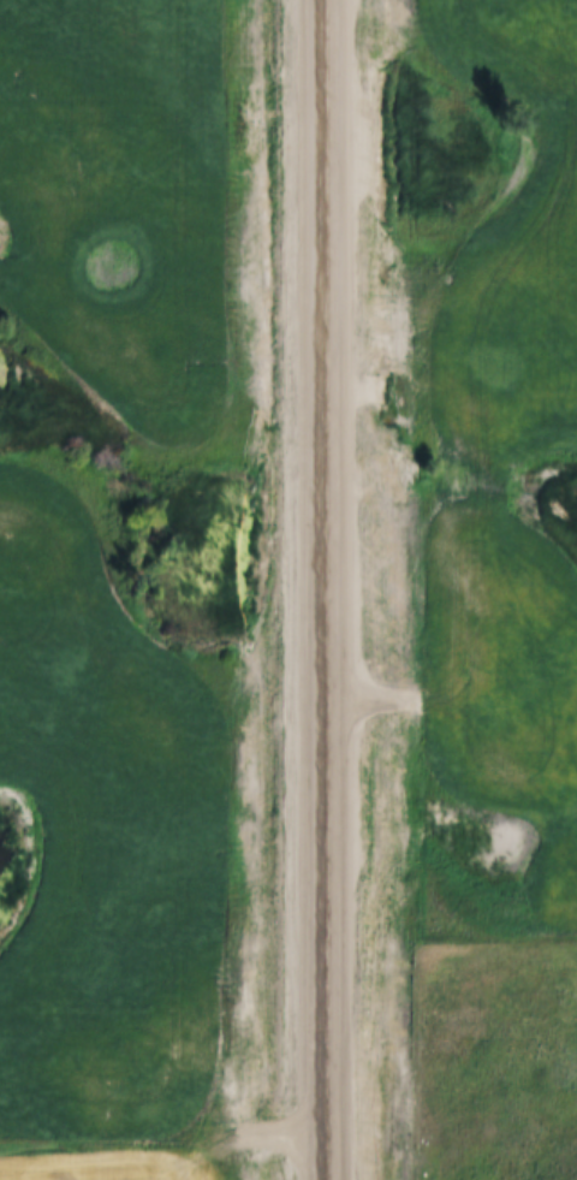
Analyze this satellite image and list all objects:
road: (329, 589)

